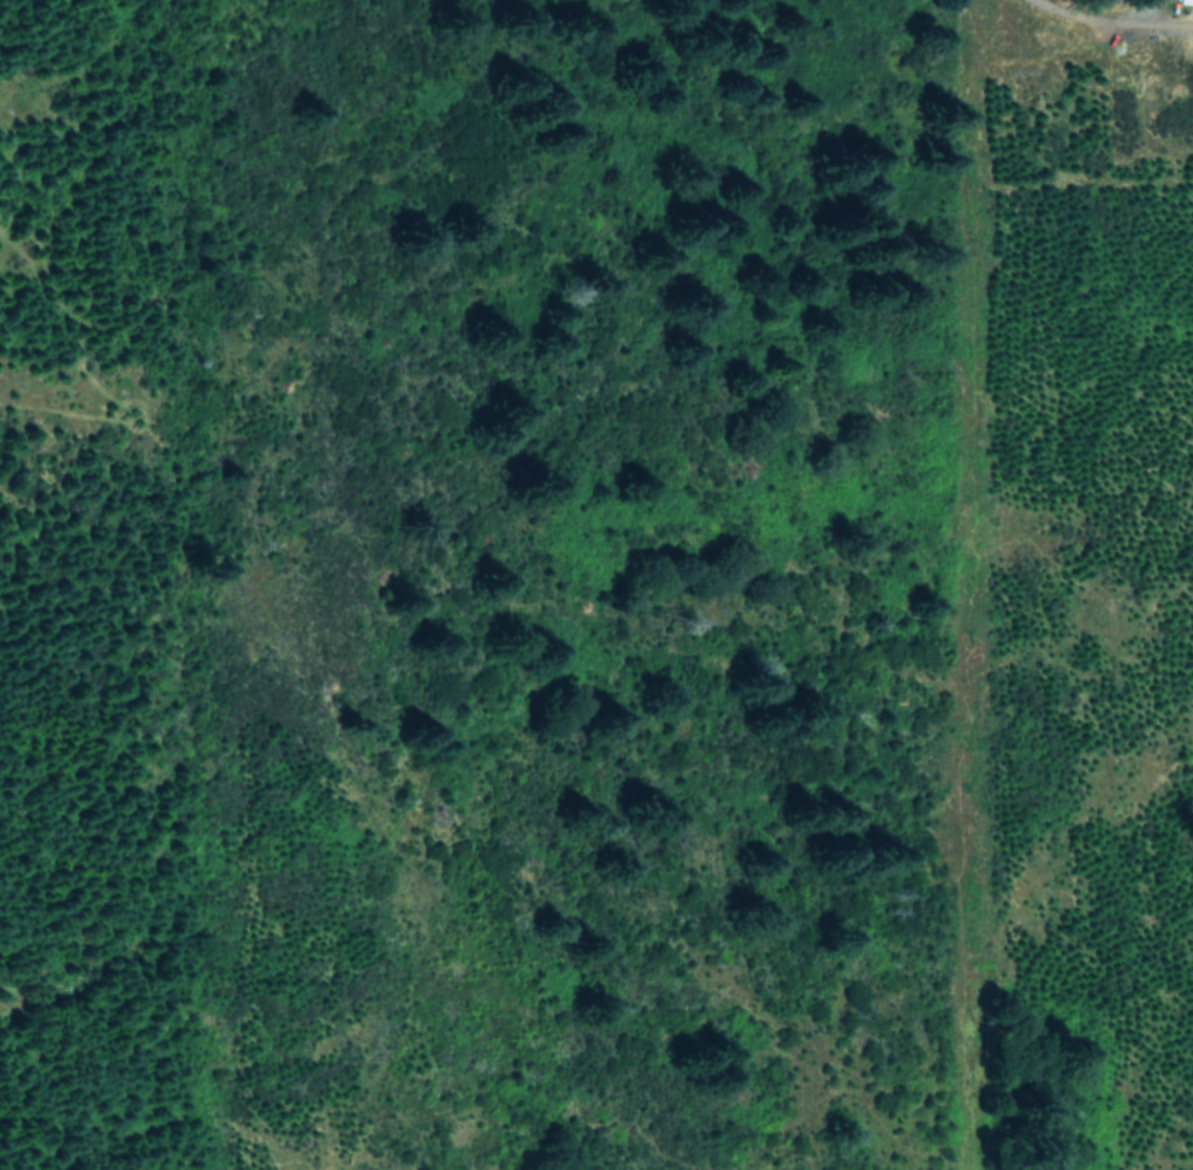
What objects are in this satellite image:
road: (1100, 17)

